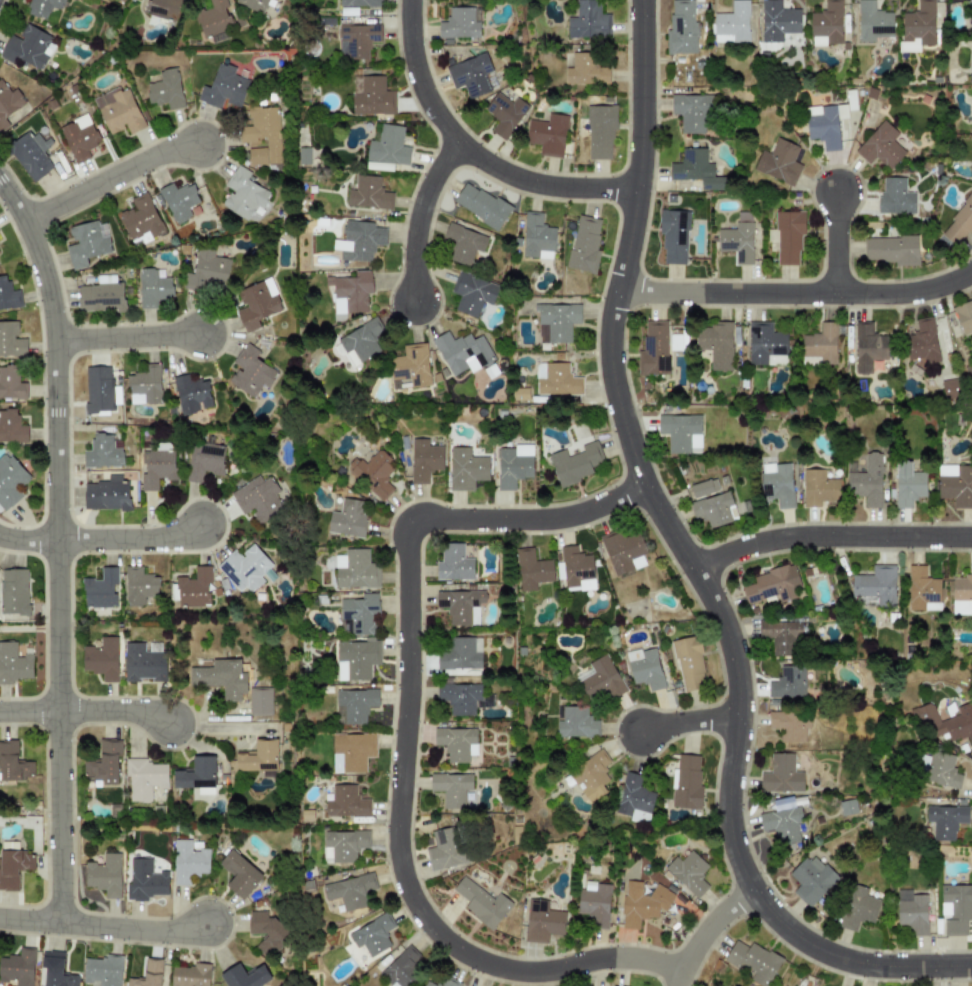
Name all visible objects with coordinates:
building: (255, 4)
building: (42, 7)
building: (163, 8)
building: (970, 11)
building: (214, 17)
building: (588, 21)
building: (777, 21)
building: (872, 21)
building: (459, 23)
building: (732, 23)
building: (919, 23)
building: (827, 24)
building: (681, 27)
building: (357, 40)
building: (27, 47)
building: (585, 69)
building: (470, 74)
building: (223, 88)
building: (165, 89)
building: (372, 96)
building: (8, 103)
building: (118, 111)
building: (690, 112)
building: (504, 113)
building: (822, 125)
building: (600, 130)
building: (547, 134)
building: (262, 135)
building: (79, 137)
building: (388, 145)
building: (880, 146)
road: (472, 152)
building: (30, 155)
building: (779, 162)
building: (378, 166)
building: (695, 169)
road: (108, 178)
building: (368, 193)
building: (244, 194)
building: (895, 196)
building: (178, 200)
building: (481, 205)
road: (418, 216)
building: (140, 219)
building: (959, 223)
building: (673, 236)
building: (537, 237)
building: (787, 237)
building: (738, 238)
building: (359, 240)
building: (464, 243)
road: (835, 243)
building: (85, 244)
building: (584, 244)
building: (891, 249)
building: (153, 288)
building: (350, 292)
road: (796, 293)
building: (102, 294)
building: (472, 294)
building: (8, 295)
building: (257, 304)
building: (964, 317)
building: (555, 322)
road: (127, 337)
building: (11, 340)
building: (361, 341)
building: (820, 343)
building: (922, 343)
building: (716, 344)
building: (766, 345)
building: (868, 347)
building: (653, 349)
building: (462, 352)
building: (411, 365)
building: (969, 370)
building: (251, 371)
building: (556, 379)
building: (11, 384)
building: (145, 385)
building: (98, 389)
building: (948, 389)
building: (191, 395)
building: (11, 427)
building: (680, 432)
building: (103, 452)
building: (424, 460)
building: (204, 461)
building: (575, 463)
building: (513, 465)
building: (156, 468)
building: (466, 469)
building: (375, 473)
building: (867, 480)
building: (10, 481)
building: (777, 483)
building: (908, 484)
building: (955, 484)
building: (703, 488)
building: (819, 488)
building: (106, 494)
building: (258, 498)
building: (712, 509)
building: (348, 518)
road: (829, 536)
road: (128, 539)
road: (27, 540)
road: (56, 548)
building: (622, 551)
building: (454, 563)
road: (690, 565)
building: (247, 569)
building: (532, 569)
building: (576, 569)
building: (355, 570)
building: (771, 584)
building: (876, 584)
building: (139, 586)
building: (194, 588)
building: (100, 589)
building: (922, 590)
building: (14, 591)
building: (962, 594)
building: (358, 614)
building: (780, 636)
building: (459, 654)
building: (102, 658)
building: (356, 659)
building: (143, 663)
building: (689, 663)
building: (14, 664)
building: (644, 668)
building: (220, 677)
building: (599, 679)
building: (787, 682)
building: (460, 697)
building: (260, 701)
building: (354, 705)
road: (85, 711)
road: (688, 721)
building: (575, 722)
building: (944, 723)
building: (790, 725)
road: (221, 728)
road: (404, 737)
building: (456, 743)
building: (352, 751)
building: (258, 757)
building: (13, 763)
building: (104, 763)
building: (942, 770)
building: (197, 775)
building: (781, 775)
building: (590, 776)
building: (144, 778)
building: (686, 782)
building: (451, 788)
building: (634, 798)
building: (346, 802)
building: (945, 820)
building: (781, 821)
building: (343, 845)
building: (443, 849)
building: (188, 861)
building: (12, 864)
building: (239, 873)
building: (690, 873)
building: (104, 875)
building: (145, 880)
building: (811, 880)
building: (349, 891)
building: (481, 902)
building: (594, 903)
building: (642, 903)
building: (858, 908)
building: (955, 908)
building: (911, 911)
building: (542, 921)
road: (103, 927)
building: (266, 929)
road: (705, 930)
building: (372, 935)
building: (753, 961)
building: (18, 967)
building: (403, 968)
building: (56, 970)
building: (103, 970)
building: (189, 975)
building: (245, 976)
building: (448, 982)
building: (429, 983)

